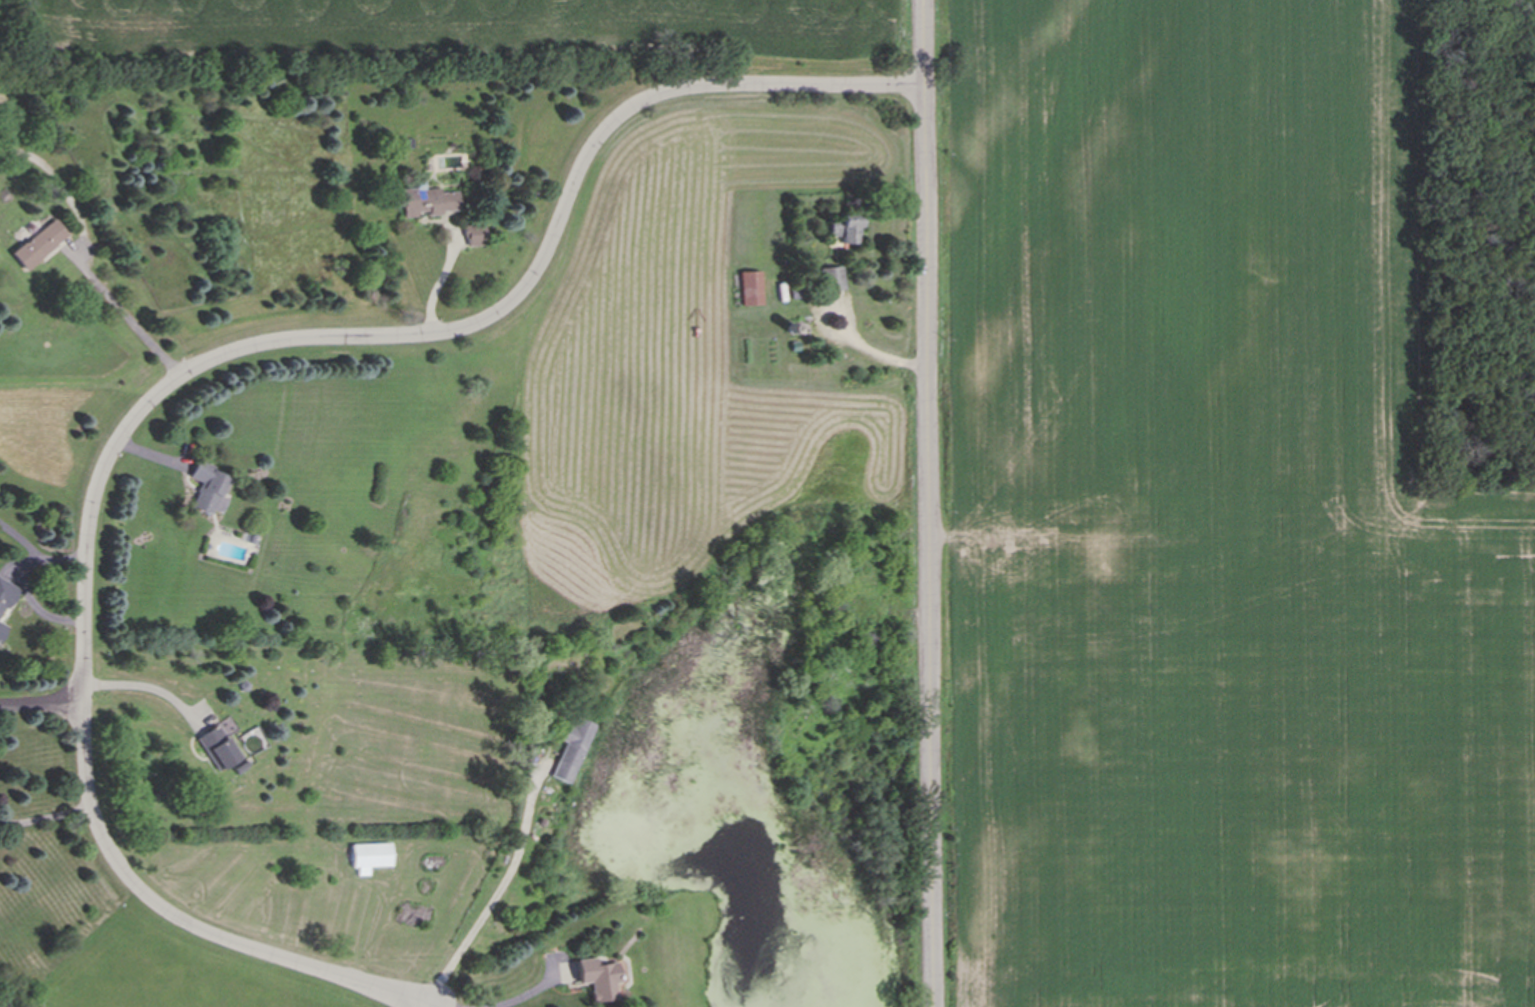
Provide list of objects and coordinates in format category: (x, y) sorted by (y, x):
building: (846, 230)
building: (474, 235)
building: (39, 245)
road: (439, 273)
building: (832, 280)
building: (752, 288)
road: (130, 315)
road: (867, 351)
road: (180, 372)
building: (209, 489)
road: (926, 503)
road: (20, 537)
road: (21, 580)
building: (5, 602)
road: (144, 687)
road: (39, 701)
building: (220, 744)
building: (572, 750)
road: (47, 817)
building: (371, 857)
road: (499, 890)
building: (598, 979)
road: (533, 993)
road: (419, 1003)
road: (426, 1003)
road: (436, 1003)

